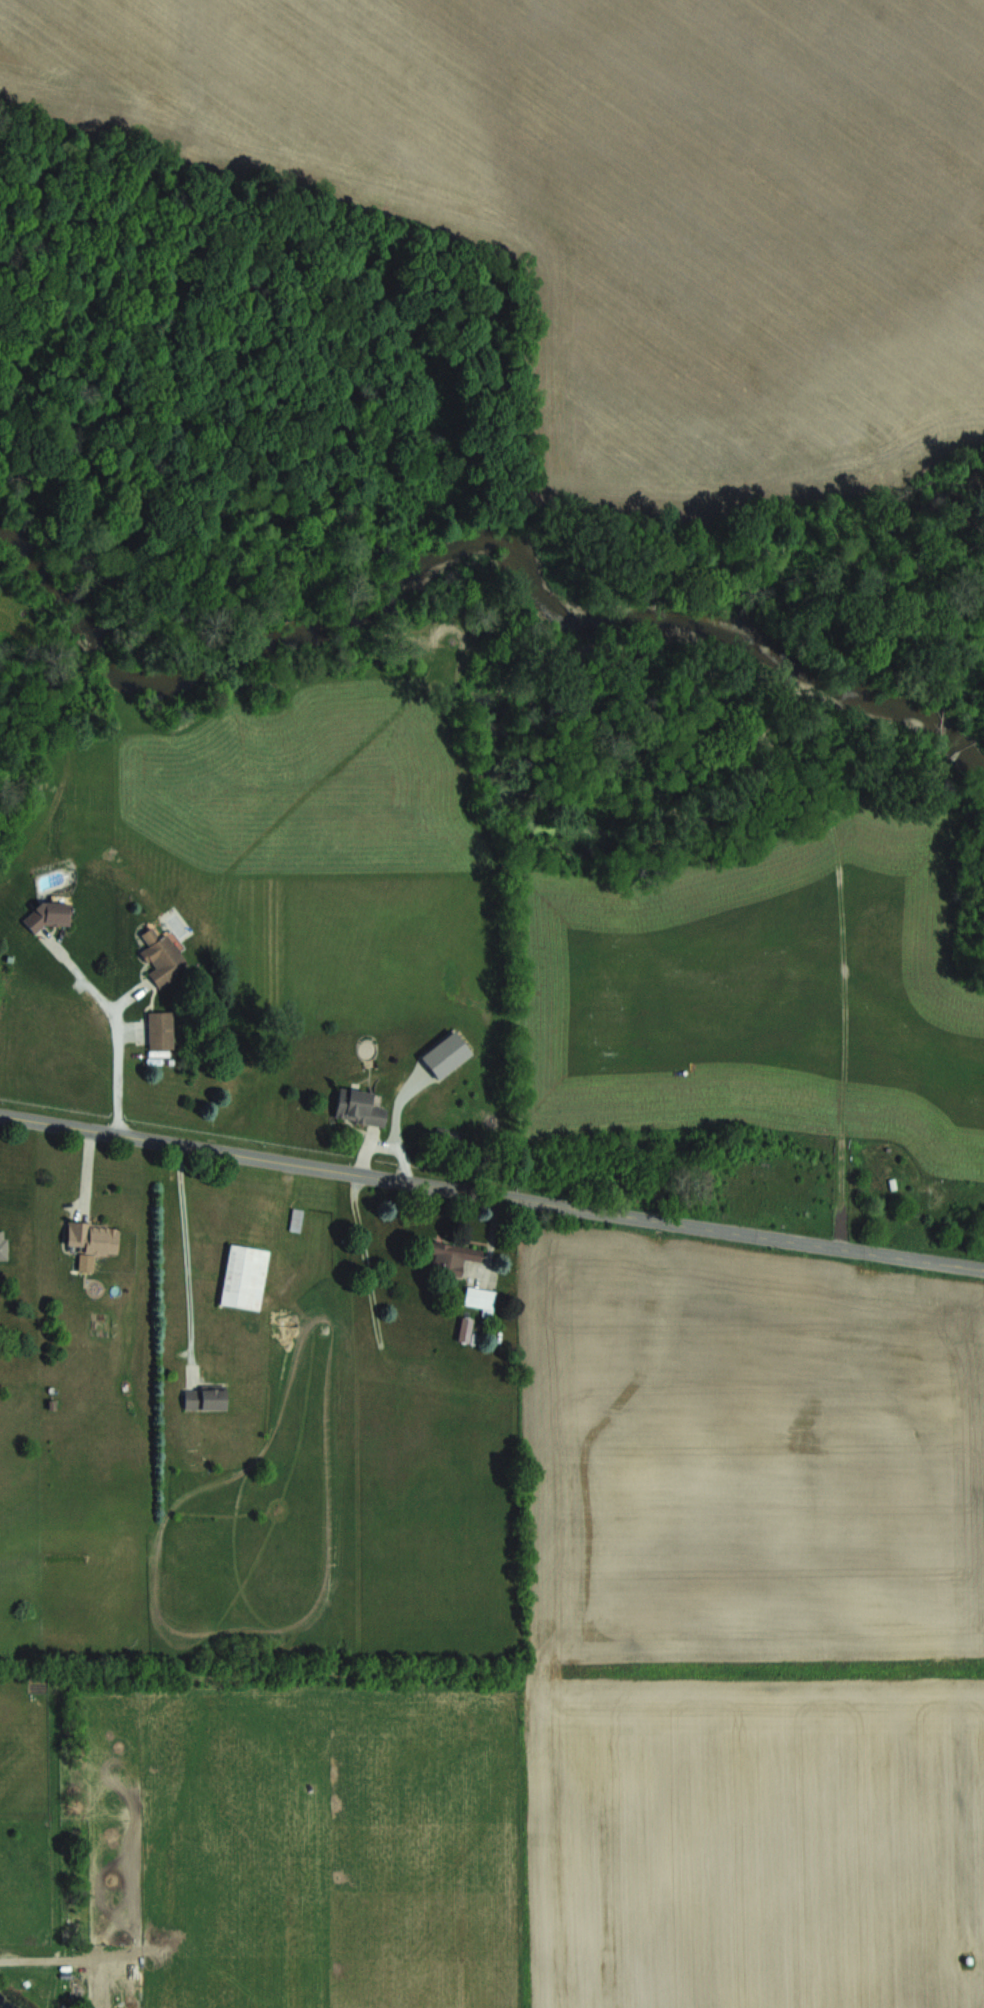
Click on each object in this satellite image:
crop: (617, 197)
river: (473, 534)
building: (49, 914)
building: (162, 957)
road: (117, 1023)
building: (159, 1030)
building: (357, 1106)
road: (491, 1192)
building: (295, 1220)
building: (92, 1238)
building: (3, 1245)
building: (450, 1257)
road: (186, 1259)
building: (243, 1276)
building: (204, 1396)

